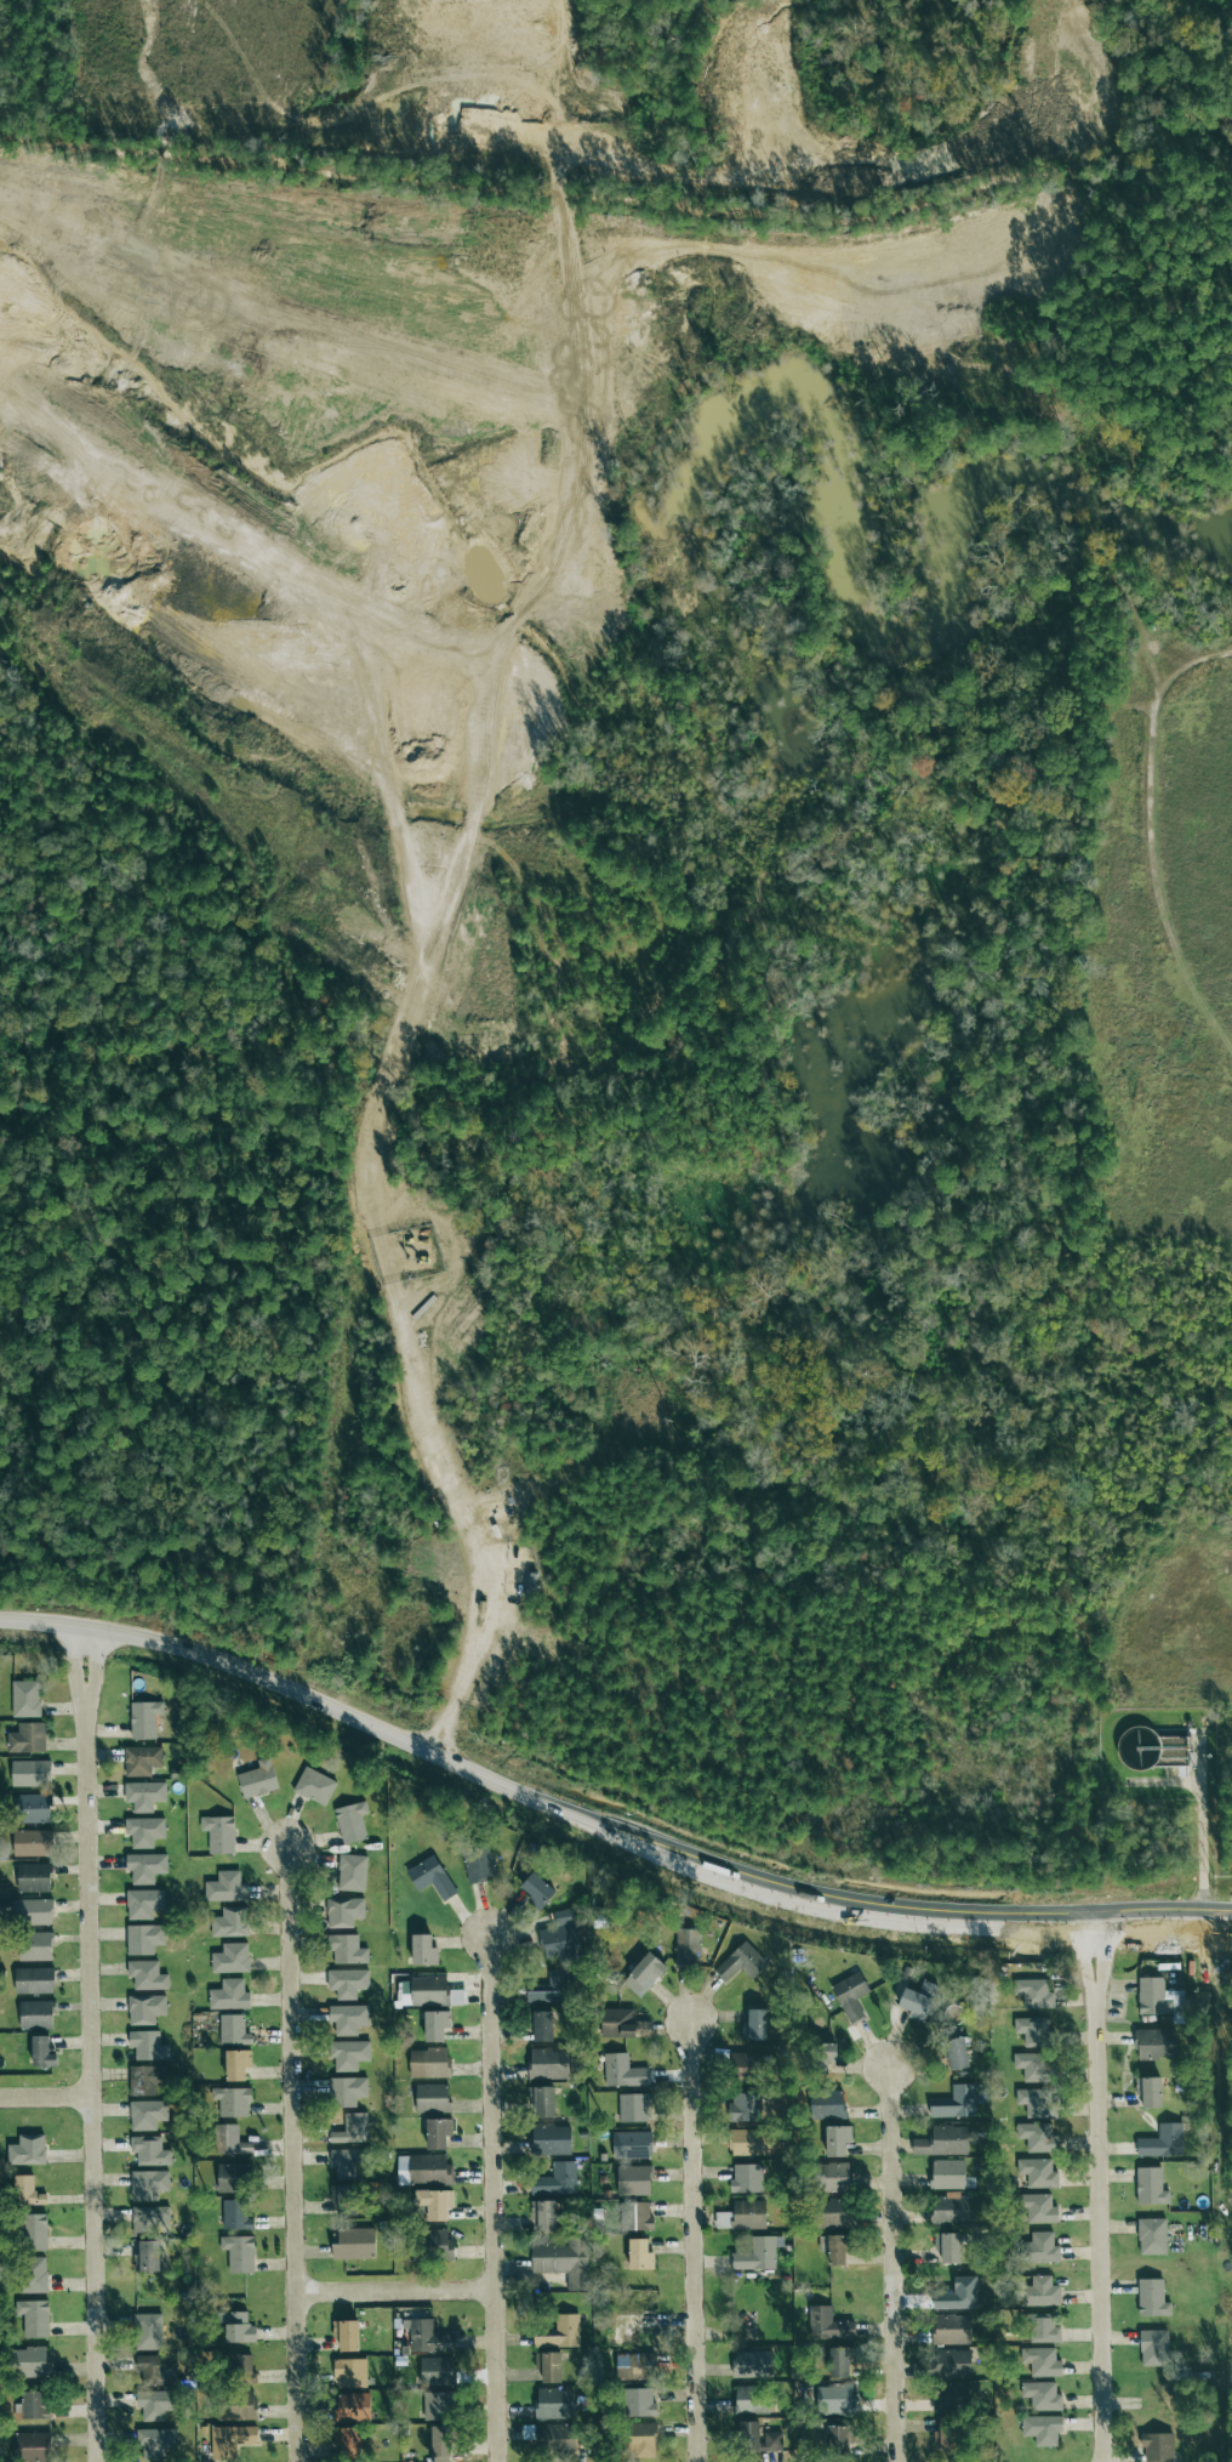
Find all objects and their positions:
road: (372, 1216)
road: (84, 1642)
road: (91, 1644)
road: (80, 1678)
road: (91, 1681)
building: (25, 1698)
building: (144, 1718)
building: (27, 1738)
building: (141, 1759)
building: (30, 1773)
building: (257, 1779)
building: (314, 1786)
building: (144, 1795)
building: (32, 1807)
building: (350, 1821)
building: (144, 1831)
road: (604, 1832)
building: (219, 1833)
road: (1203, 1838)
building: (33, 1842)
building: (479, 1863)
building: (146, 1866)
building: (352, 1872)
building: (430, 1876)
building: (34, 1877)
building: (226, 1887)
building: (537, 1890)
building: (143, 1903)
building: (28, 1911)
building: (343, 1911)
building: (230, 1922)
building: (560, 1937)
building: (144, 1938)
building: (35, 1945)
building: (347, 1949)
building: (423, 1950)
building: (230, 1958)
building: (737, 1962)
building: (640, 1969)
building: (147, 1974)
building: (34, 1980)
building: (347, 1981)
building: (553, 1988)
building: (429, 1991)
building: (1031, 1992)
building: (229, 1995)
building: (846, 1996)
building: (1147, 1996)
building: (906, 2002)
building: (146, 2008)
building: (36, 2013)
building: (348, 2018)
building: (615, 2023)
building: (749, 2024)
building: (435, 2025)
building: (541, 2025)
building: (233, 2029)
building: (1032, 2030)
building: (1151, 2043)
building: (148, 2045)
building: (41, 2051)
building: (949, 2053)
building: (348, 2054)
building: (815, 2058)
building: (429, 2062)
building: (548, 2063)
building: (236, 2064)
building: (1028, 2065)
building: (621, 2071)
road: (96, 2080)
building: (147, 2080)
building: (346, 2091)
building: (1143, 2093)
building: (432, 2097)
road: (49, 2100)
building: (232, 2100)
building: (542, 2100)
building: (952, 2103)
building: (822, 2104)
building: (629, 2106)
building: (745, 2108)
building: (147, 2114)
building: (1036, 2122)
building: (352, 2128)
building: (438, 2132)
building: (618, 2138)
building: (230, 2139)
building: (551, 2139)
building: (832, 2140)
building: (738, 2142)
building: (939, 2142)
building: (1158, 2142)
building: (27, 2150)
building: (149, 2150)
road: (292, 2153)
building: (348, 2162)
building: (423, 2168)
building: (1033, 2173)
building: (943, 2174)
building: (233, 2177)
building: (825, 2177)
building: (742, 2178)
building: (557, 2179)
building: (629, 2180)
building: (148, 2184)
building: (1146, 2187)
building: (27, 2190)
building: (344, 2199)
road: (495, 2199)
road: (1094, 2201)
building: (435, 2202)
building: (1034, 2207)
building: (946, 2210)
building: (544, 2213)
building: (826, 2213)
building: (235, 2214)
building: (742, 2214)
building: (635, 2216)
building: (149, 2219)
building: (34, 2233)
building: (1147, 2236)
road: (692, 2242)
building: (353, 2245)
building: (430, 2245)
building: (1036, 2248)
building: (828, 2251)
building: (239, 2252)
building: (634, 2255)
building: (751, 2255)
building: (147, 2256)
building: (564, 2261)
road: (888, 2264)
building: (33, 2274)
road: (395, 2291)
building: (1037, 2292)
building: (1147, 2298)
building: (34, 2316)
building: (821, 2325)
building: (239, 2327)
building: (1039, 2329)
building: (947, 2330)
building: (148, 2331)
building: (560, 2332)
building: (346, 2333)
building: (428, 2337)
building: (1150, 2347)
building: (946, 2356)
building: (30, 2361)
building: (831, 2364)
building: (1037, 2364)
building: (548, 2365)
building: (155, 2369)
building: (240, 2369)
building: (437, 2371)
building: (947, 2371)
building: (350, 2372)
building: (1039, 2395)
building: (831, 2400)
building: (554, 2403)
building: (633, 2403)
building: (34, 2404)
building: (155, 2404)
building: (352, 2405)
building: (439, 2405)
building: (236, 2406)
building: (1039, 2429)
building: (783, 2432)
building: (557, 2435)
building: (743, 2435)
building: (232, 2438)
building: (634, 2439)
building: (348, 2440)
building: (155, 2441)
building: (772, 2441)
building: (831, 2441)
building: (440, 2443)
building: (30, 2446)
building: (1153, 2447)

